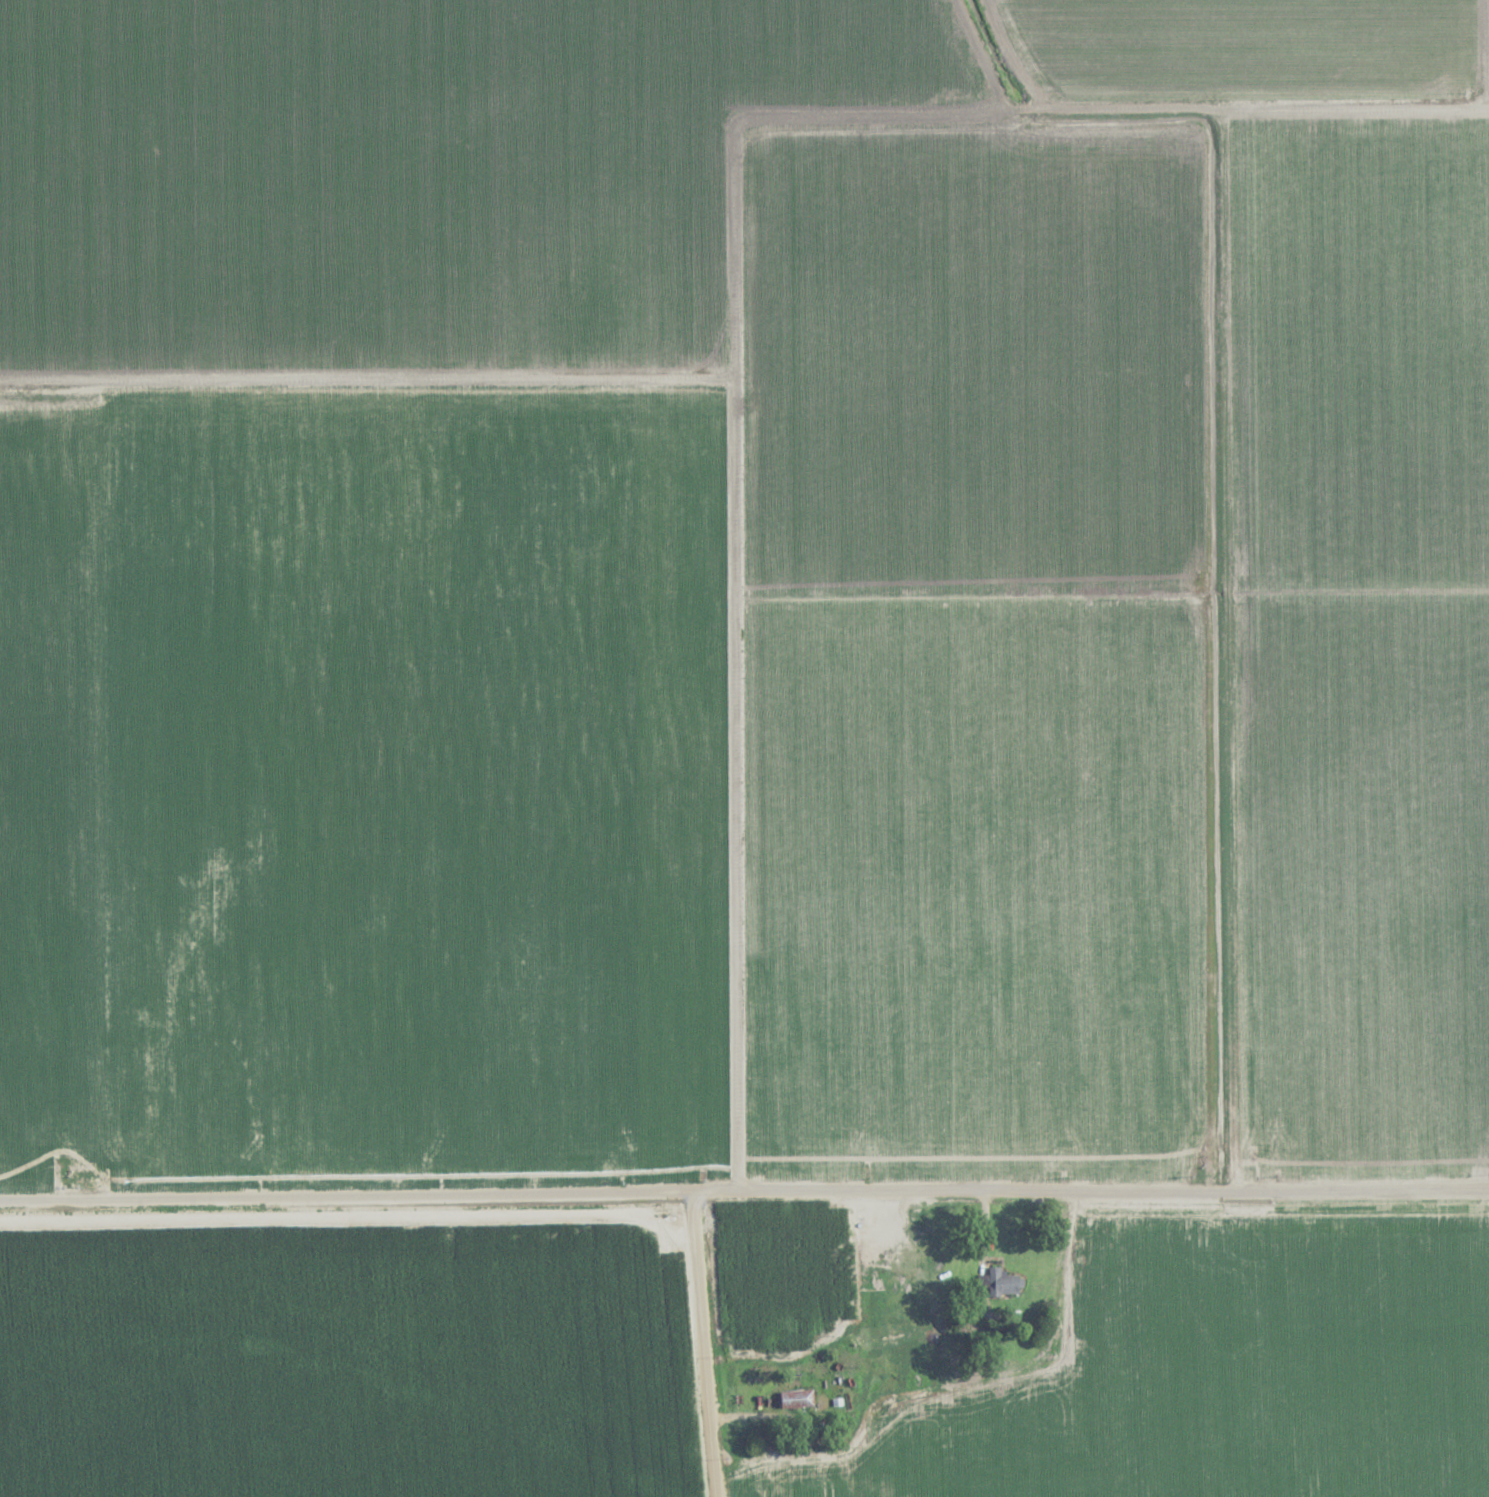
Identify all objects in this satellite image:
road: (1011, 113)
road: (744, 1204)
building: (999, 1283)
road: (697, 1351)
building: (795, 1399)

